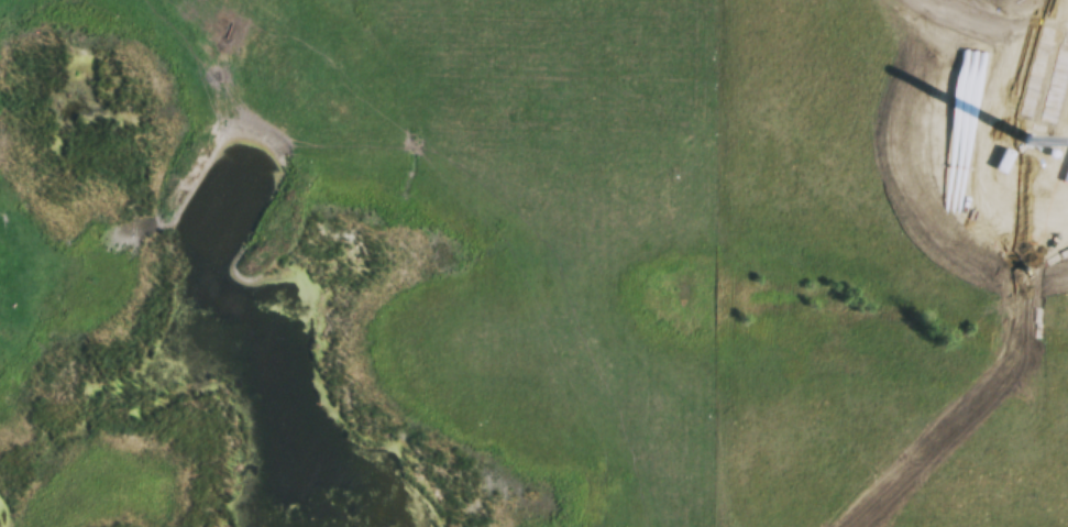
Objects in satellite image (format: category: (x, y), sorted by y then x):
wind turbine: (1024, 144)

